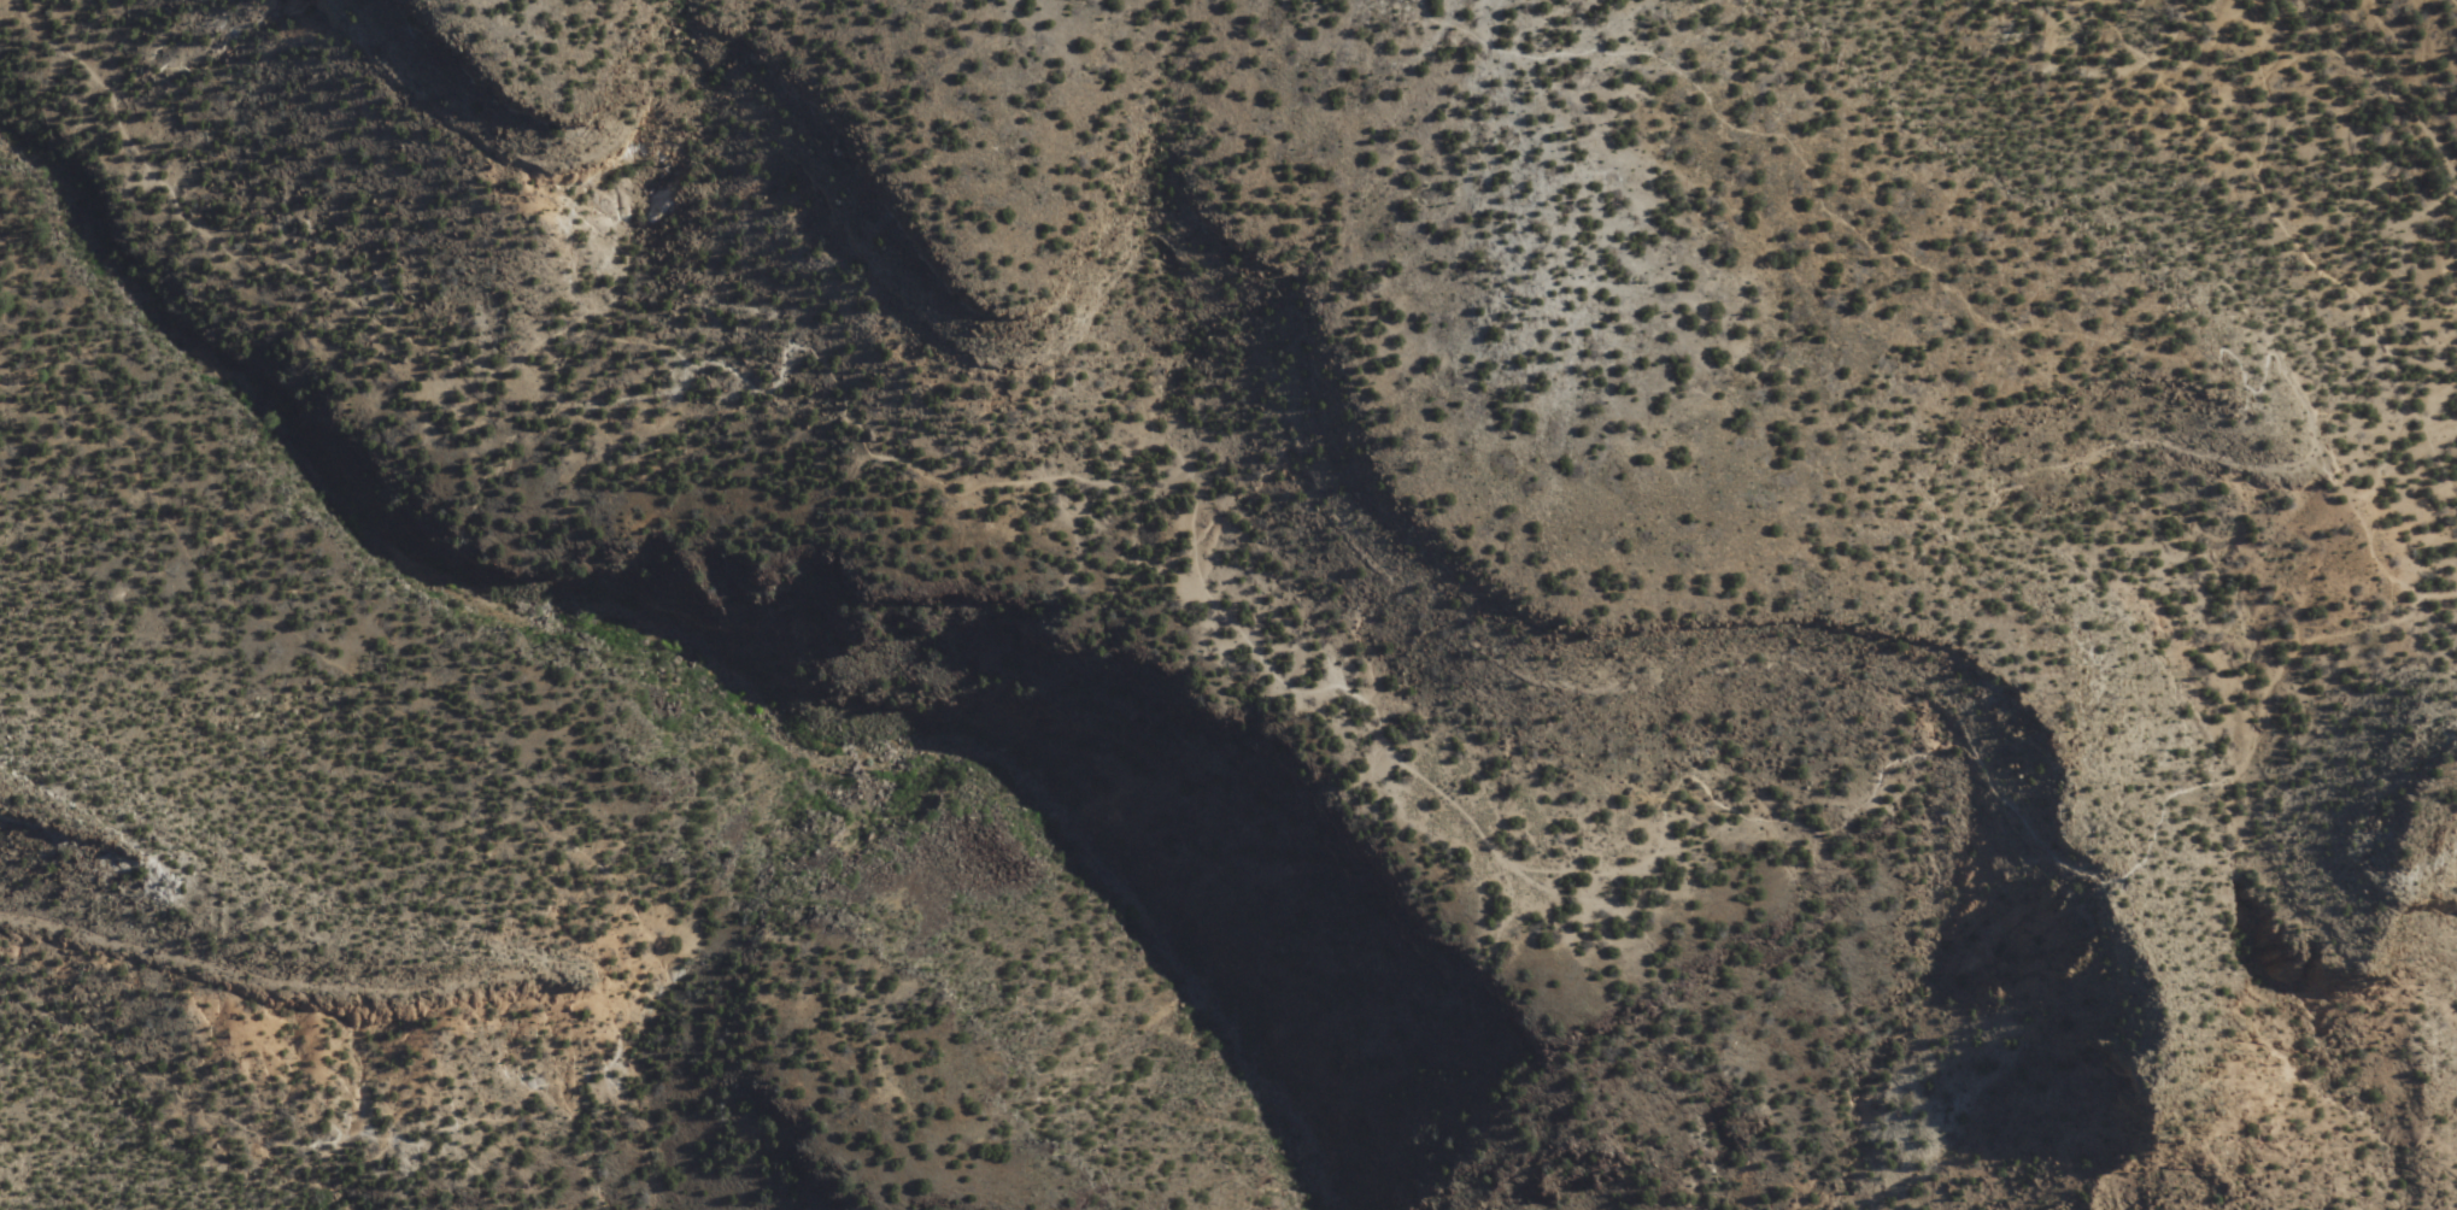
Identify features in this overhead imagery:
road: (2455, 2)
road: (2288, 212)
road: (1963, 319)
road: (1247, 642)
road: (698, 670)
road: (620, 893)
road: (2427, 1100)

